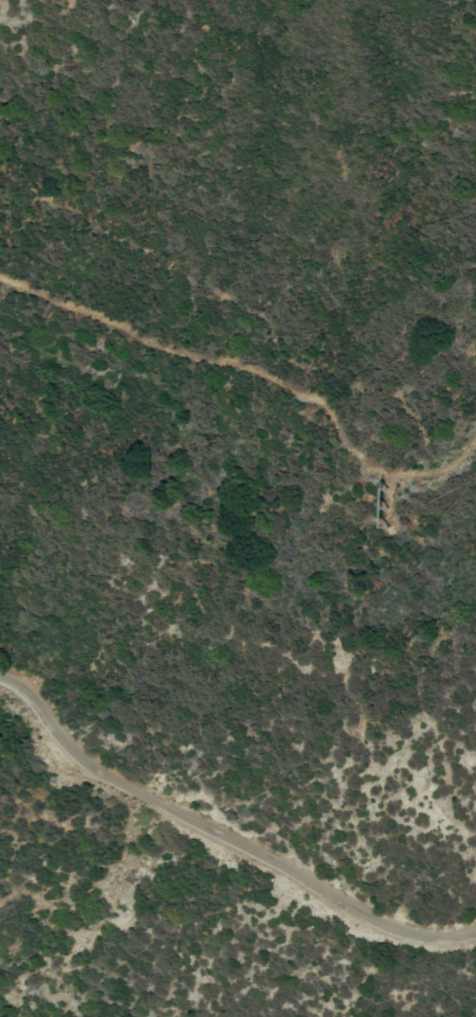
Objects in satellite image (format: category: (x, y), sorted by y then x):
power tower: (388, 508)
road: (223, 834)

